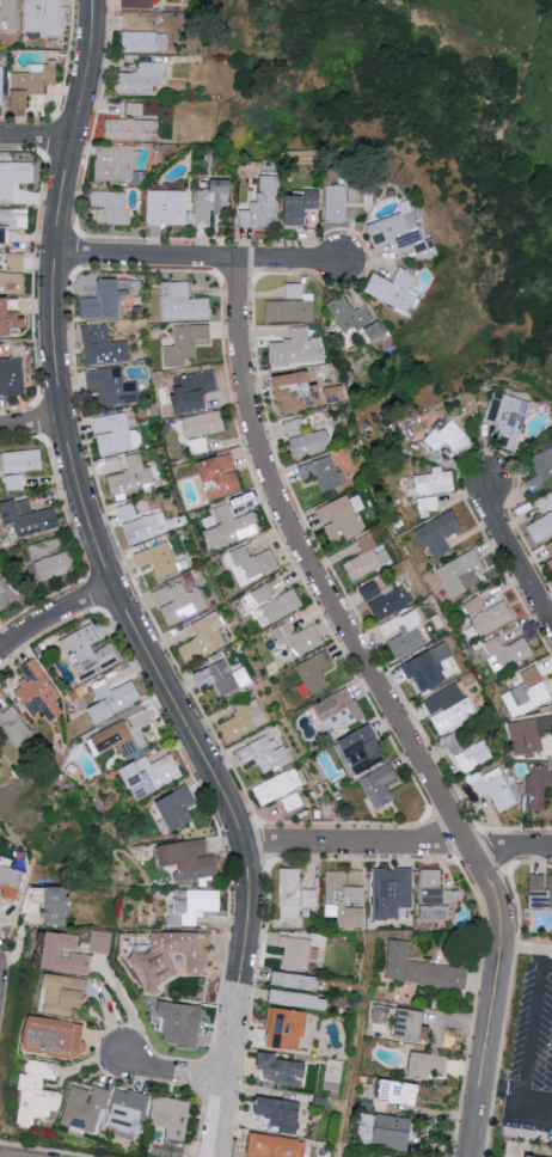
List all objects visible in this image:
building: (136, 5)
building: (8, 14)
building: (43, 18)
building: (133, 22)
building: (143, 45)
building: (141, 81)
building: (1, 84)
building: (30, 88)
building: (130, 133)
road: (36, 135)
building: (115, 166)
building: (13, 180)
building: (221, 200)
building: (265, 207)
building: (336, 207)
building: (110, 210)
building: (167, 212)
building: (351, 212)
building: (299, 213)
building: (12, 226)
building: (400, 237)
road: (198, 257)
building: (11, 278)
road: (258, 278)
building: (393, 292)
building: (105, 304)
building: (182, 306)
building: (290, 307)
building: (355, 320)
building: (7, 322)
building: (184, 348)
building: (295, 351)
building: (106, 357)
building: (11, 380)
building: (109, 387)
building: (298, 390)
building: (194, 394)
building: (508, 416)
road: (30, 422)
building: (294, 427)
building: (203, 428)
building: (115, 440)
building: (307, 446)
building: (23, 460)
building: (541, 470)
road: (460, 472)
building: (321, 473)
building: (14, 480)
building: (130, 480)
building: (220, 480)
building: (434, 482)
building: (427, 503)
building: (545, 503)
building: (133, 509)
building: (30, 516)
building: (339, 520)
building: (139, 527)
building: (541, 528)
building: (229, 531)
building: (437, 532)
building: (550, 547)
road: (514, 556)
building: (363, 559)
building: (48, 562)
building: (551, 563)
building: (161, 564)
building: (254, 565)
building: (460, 573)
road: (114, 588)
building: (6, 594)
building: (382, 601)
building: (179, 605)
building: (276, 606)
building: (474, 606)
road: (53, 612)
building: (492, 618)
building: (403, 633)
building: (202, 642)
building: (299, 643)
building: (508, 650)
building: (90, 653)
building: (429, 668)
building: (315, 674)
building: (216, 682)
building: (38, 690)
building: (526, 692)
building: (114, 698)
road: (387, 706)
building: (339, 709)
building: (448, 710)
building: (239, 724)
building: (13, 728)
building: (124, 733)
building: (533, 735)
building: (363, 753)
building: (263, 758)
building: (472, 758)
building: (151, 775)
building: (380, 789)
building: (538, 789)
building: (276, 790)
building: (490, 790)
building: (292, 806)
building: (178, 808)
road: (397, 843)
building: (189, 857)
building: (392, 892)
building: (541, 892)
building: (294, 895)
building: (345, 896)
building: (431, 898)
building: (53, 904)
building: (195, 905)
building: (100, 941)
road: (525, 948)
building: (298, 951)
building: (65, 954)
building: (172, 956)
building: (419, 971)
building: (295, 980)
road: (509, 991)
building: (66, 992)
building: (182, 1023)
building: (409, 1026)
building: (288, 1028)
building: (57, 1034)
road: (540, 1039)
road: (357, 1049)
parking lot: (533, 1055)
building: (424, 1066)
building: (284, 1071)
road: (174, 1075)
building: (39, 1091)
building: (398, 1094)
road: (513, 1101)
building: (86, 1108)
building: (281, 1113)
building: (130, 1114)
building: (174, 1116)
building: (382, 1131)
building: (277, 1146)
building: (381, 1156)
building: (527, 1156)

